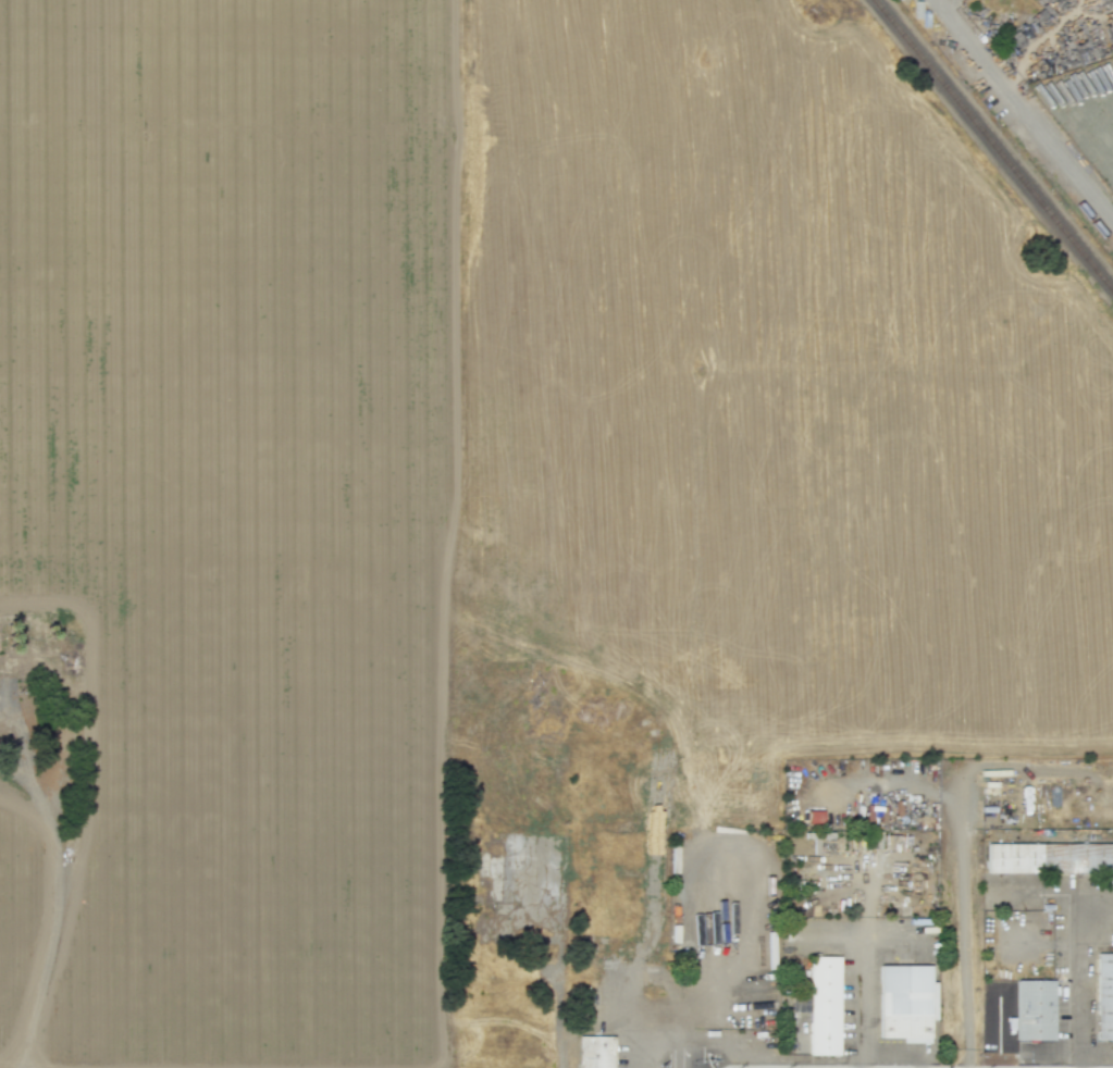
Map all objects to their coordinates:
road: (941, 8)
road: (1030, 116)
railway: (992, 146)
road: (454, 505)
crop: (235, 507)
road: (18, 743)
road: (10, 769)
building: (1049, 857)
crop: (17, 907)
road: (52, 918)
road: (964, 936)
road: (864, 968)
road: (1083, 980)
road: (628, 985)
building: (1103, 996)
building: (903, 1002)
building: (824, 1005)
building: (1034, 1009)
road: (685, 1050)
building: (594, 1052)

